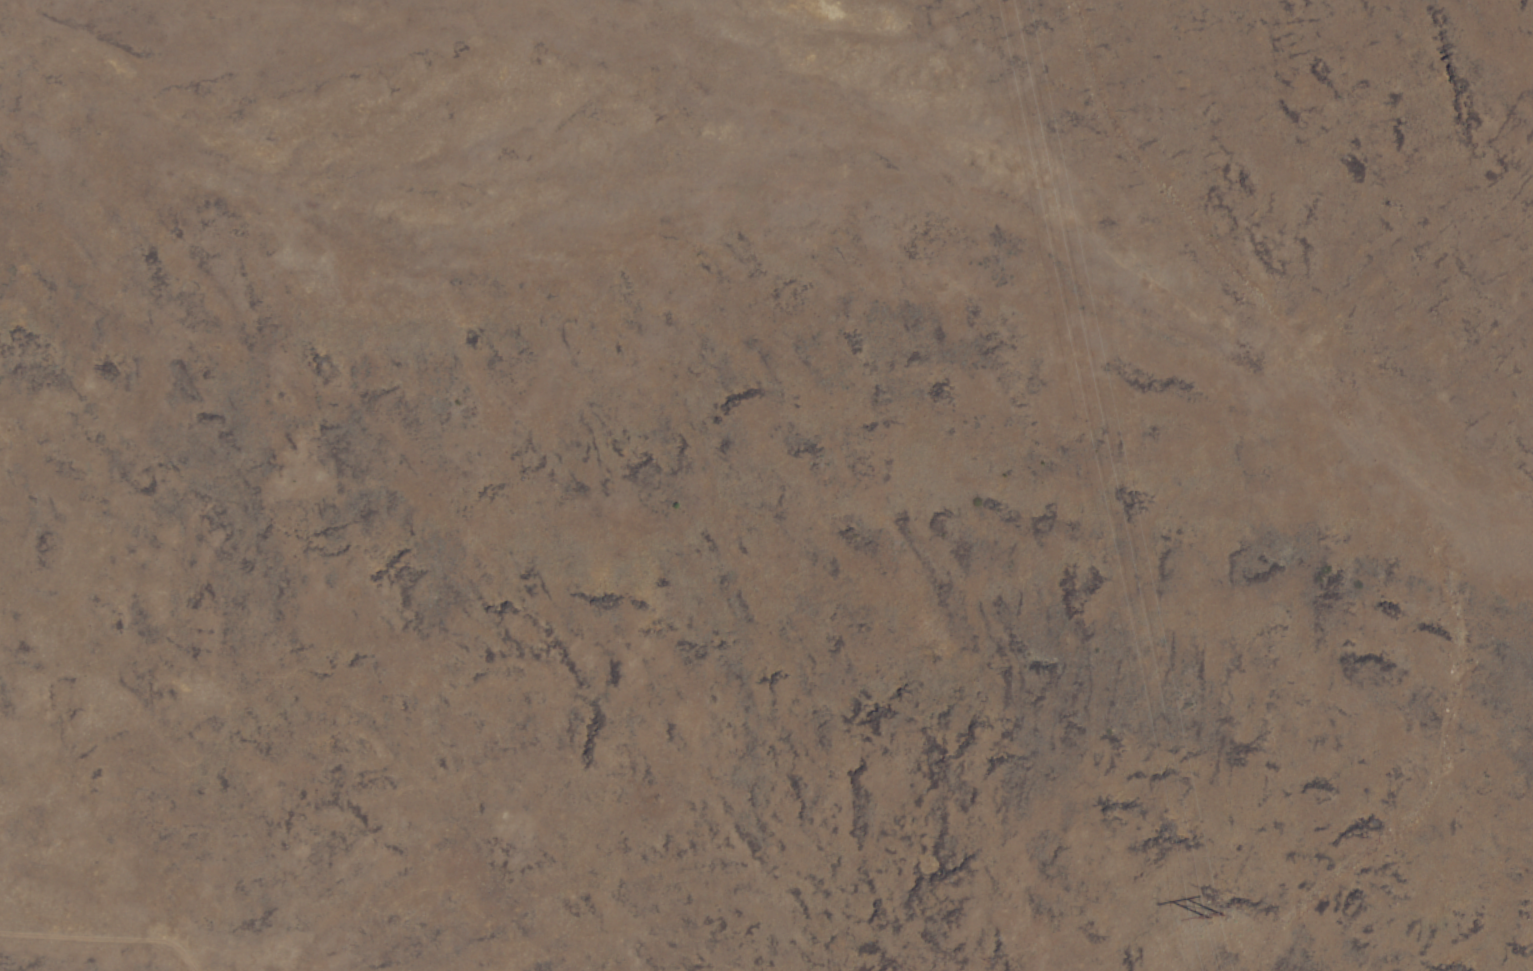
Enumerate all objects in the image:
power tower: (1217, 919)

